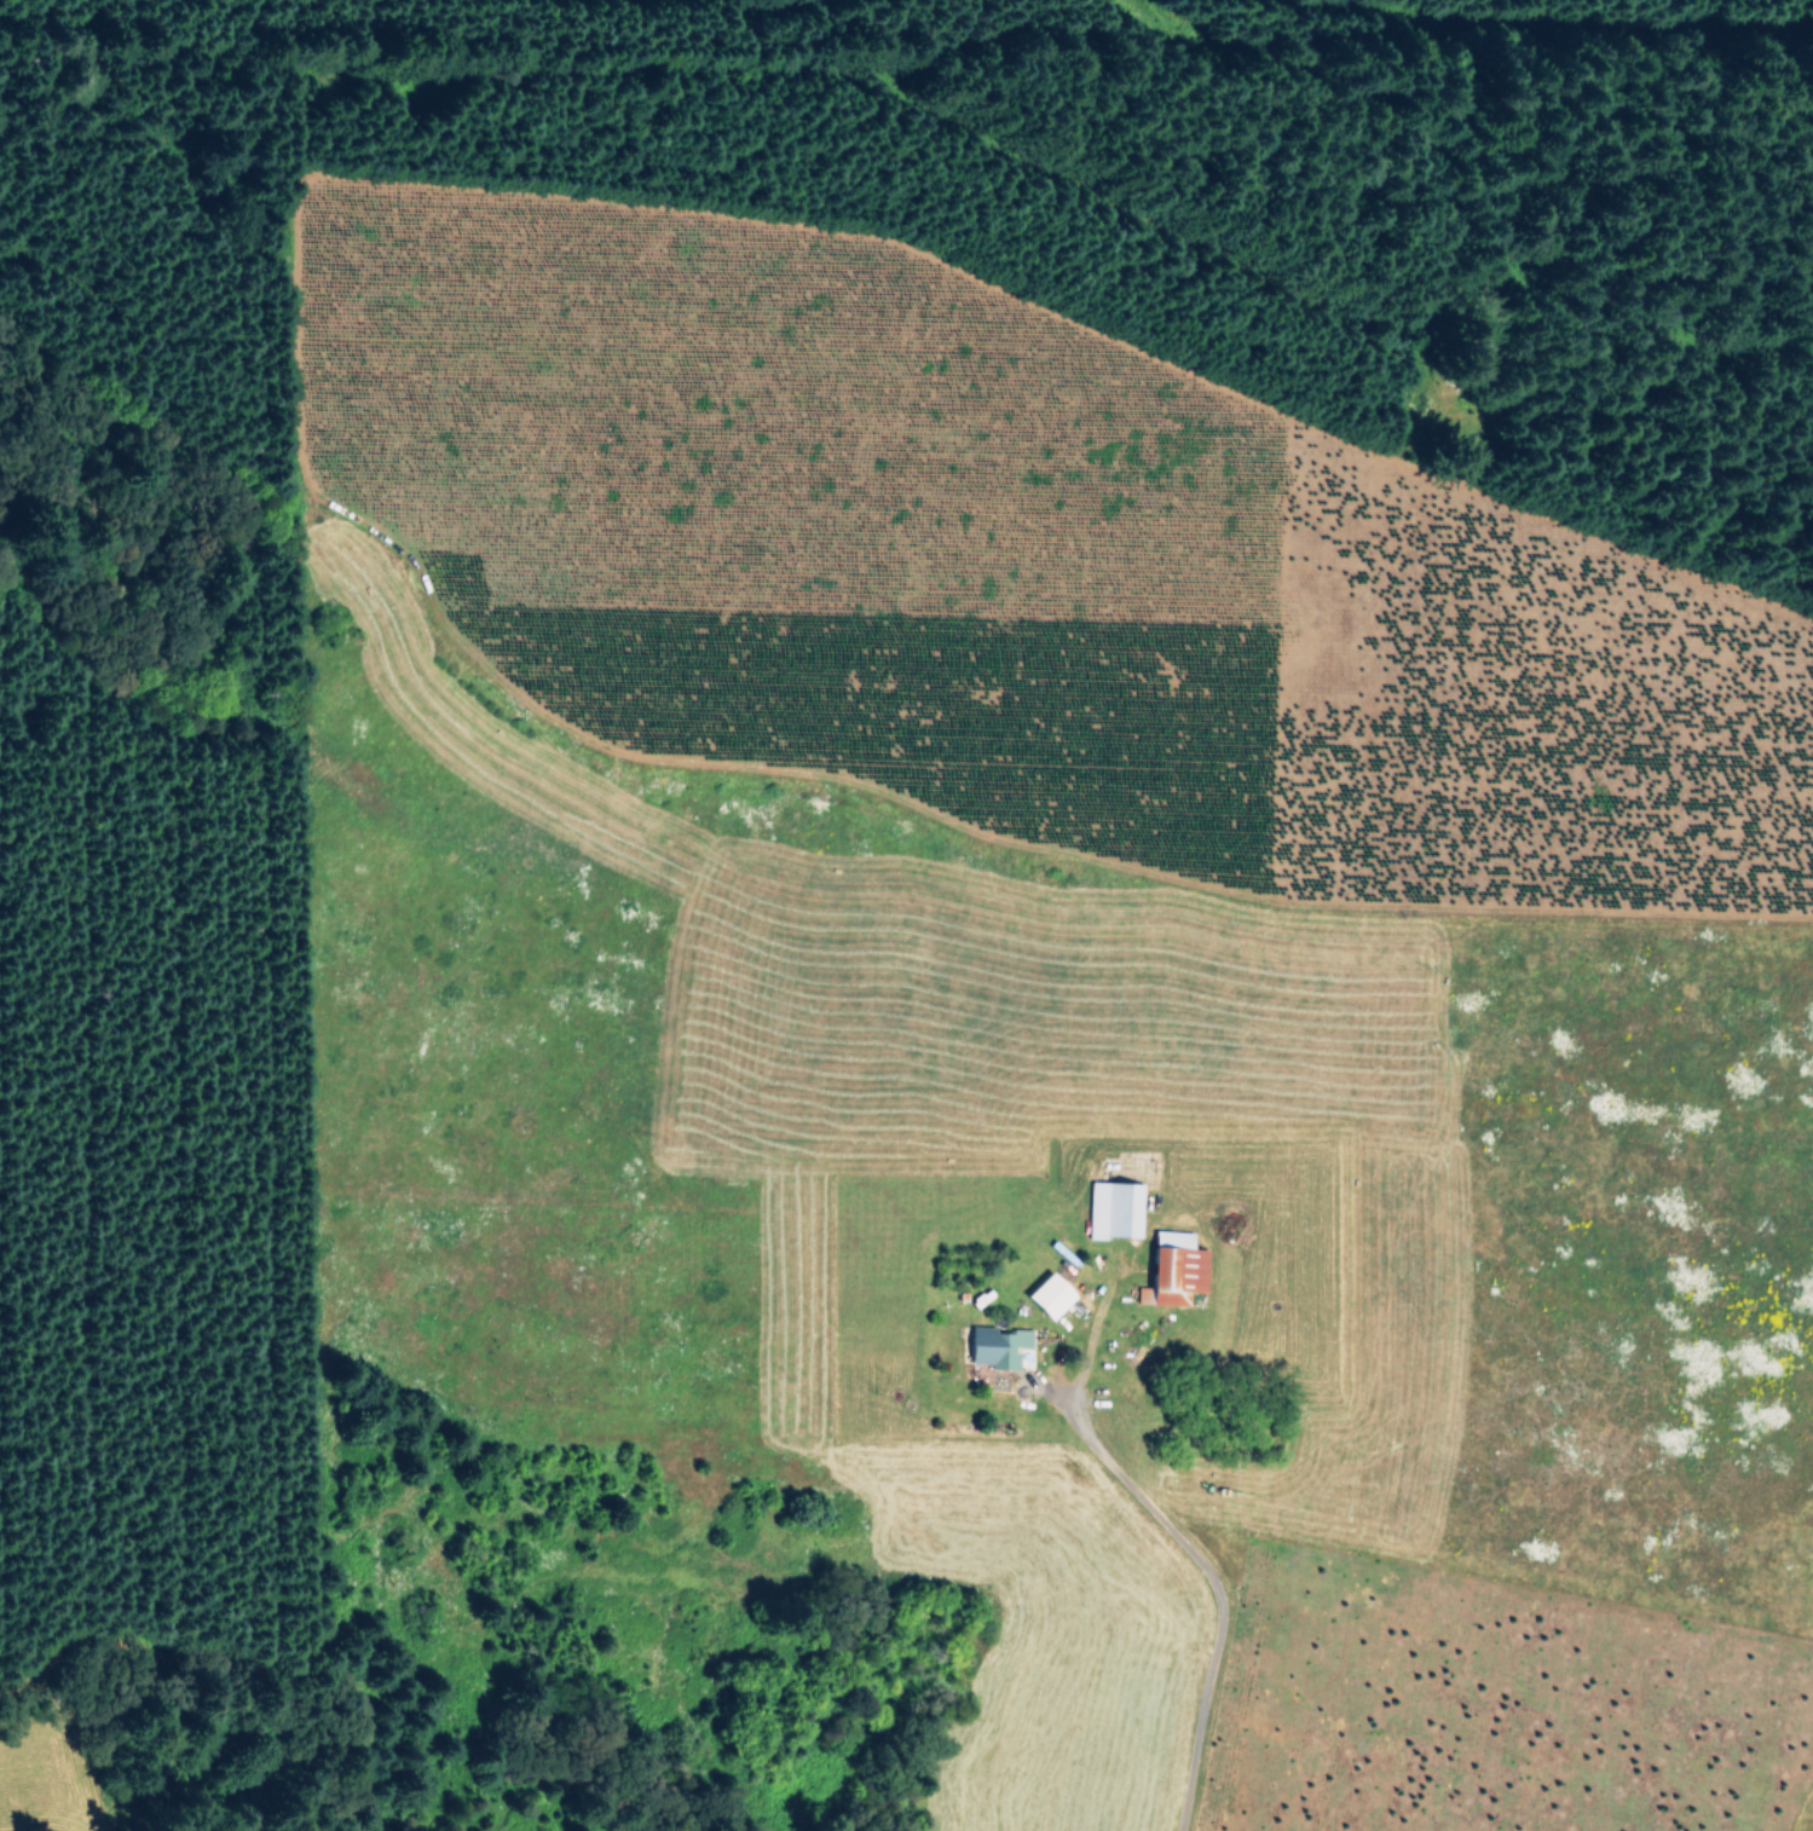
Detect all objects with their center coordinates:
road: (722, 6)
road: (1543, 24)
road: (899, 96)
road: (1436, 191)
road: (1063, 316)
road: (867, 791)
building: (1172, 1265)
building: (1044, 1294)
building: (994, 1345)
road: (1173, 1542)
road: (58, 1740)

